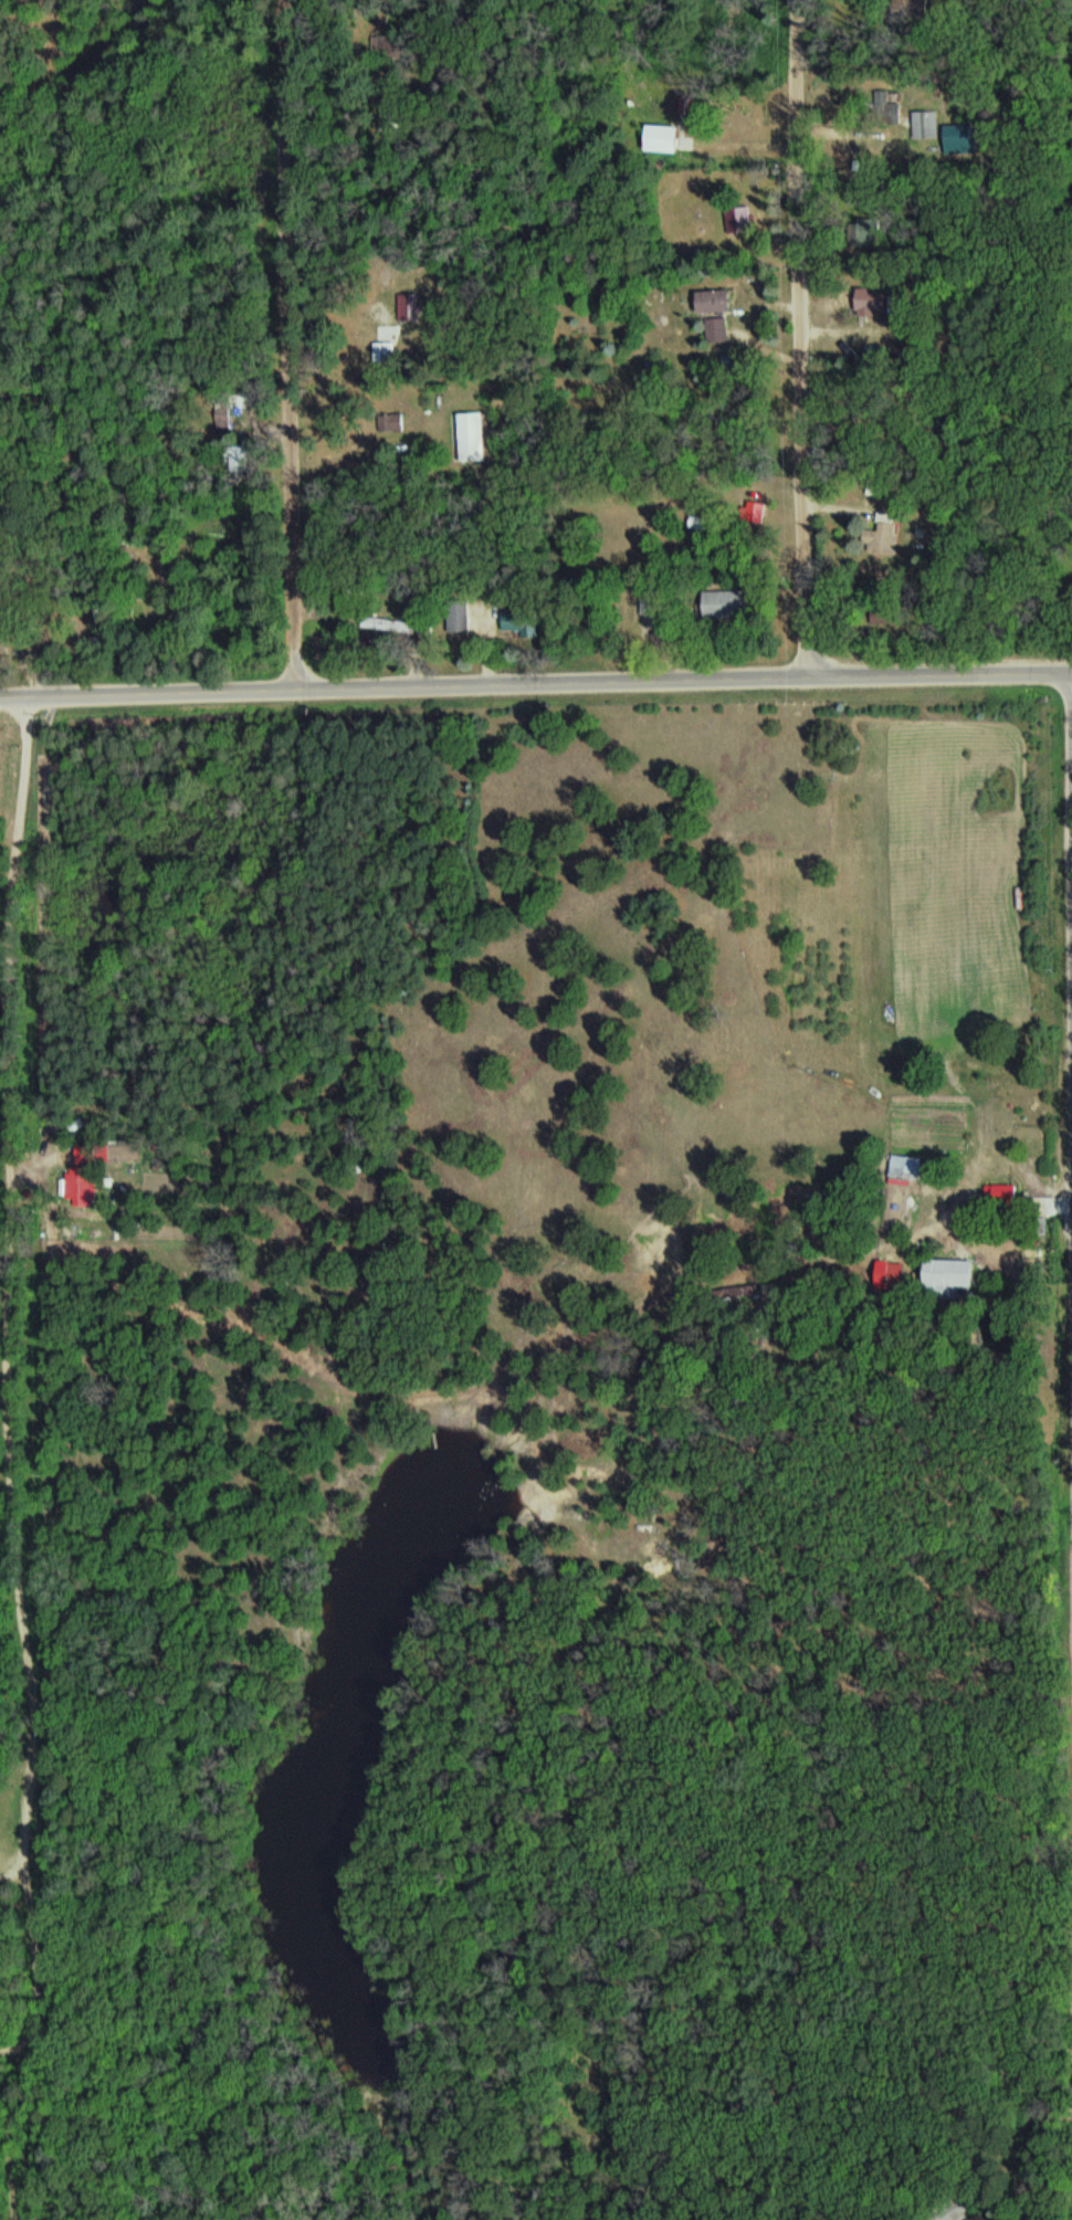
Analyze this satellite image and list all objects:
building: (391, 115)
building: (740, 221)
building: (717, 302)
building: (721, 329)
road: (805, 339)
road: (297, 346)
building: (386, 353)
building: (397, 422)
building: (475, 436)
building: (241, 459)
building: (755, 513)
building: (727, 604)
building: (461, 616)
building: (390, 623)
building: (521, 623)
road: (535, 685)
road: (20, 965)
road: (20, 1081)
road: (40, 1156)
building: (908, 1168)
building: (83, 1187)
building: (1007, 1196)
building: (994, 1261)
building: (950, 1272)
road: (21, 1620)
building: (955, 2209)

